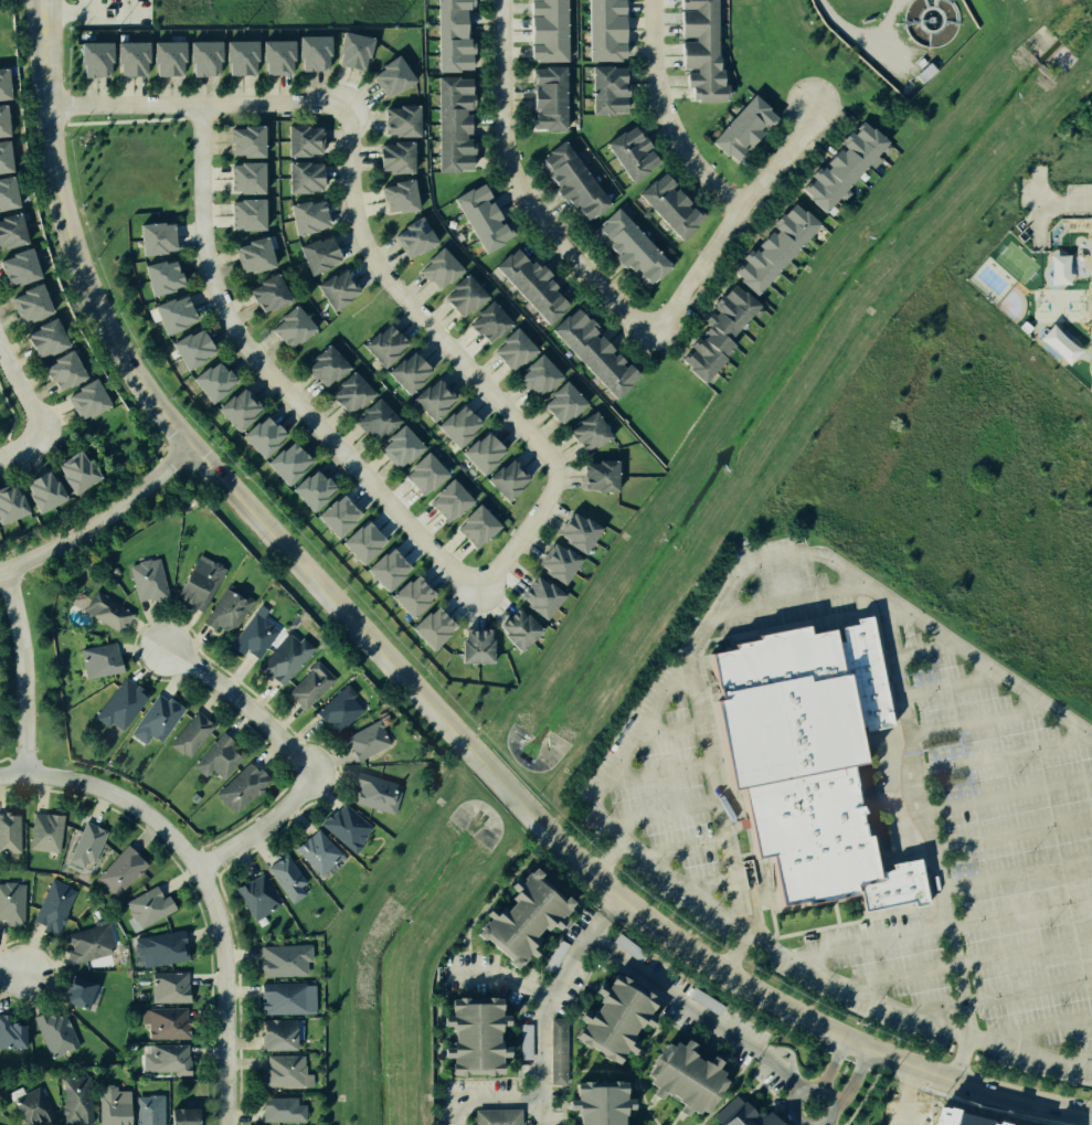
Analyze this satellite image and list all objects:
road: (71, 15)
building: (930, 21)
storage tank: (930, 21)
building: (552, 31)
building: (611, 31)
road: (850, 33)
park: (6, 34)
building: (460, 35)
building: (707, 49)
building: (359, 52)
building: (316, 54)
building: (280, 55)
building: (246, 56)
building: (211, 57)
building: (177, 59)
building: (99, 61)
building: (139, 61)
building: (922, 73)
building: (396, 75)
building: (3, 84)
building: (615, 89)
building: (552, 98)
road: (193, 105)
road: (661, 115)
building: (400, 120)
building: (1, 126)
building: (460, 127)
building: (748, 128)
building: (297, 139)
building: (253, 140)
building: (635, 152)
building: (2, 158)
building: (400, 158)
building: (848, 164)
building: (255, 179)
building: (309, 179)
building: (581, 179)
road: (517, 187)
building: (6, 191)
building: (403, 200)
road: (1068, 200)
building: (676, 205)
road: (727, 214)
building: (254, 215)
building: (314, 217)
building: (489, 217)
building: (14, 233)
building: (418, 236)
building: (159, 241)
building: (637, 244)
building: (1086, 246)
building: (781, 250)
building: (324, 251)
building: (259, 255)
building: (21, 267)
building: (444, 267)
building: (162, 278)
building: (1059, 279)
building: (536, 284)
building: (341, 287)
building: (275, 293)
building: (469, 293)
building: (34, 304)
road: (411, 309)
building: (734, 310)
building: (178, 315)
building: (494, 320)
building: (294, 327)
building: (1088, 332)
building: (52, 337)
building: (388, 343)
building: (1060, 343)
building: (519, 347)
building: (593, 348)
building: (195, 351)
building: (712, 355)
building: (330, 367)
building: (413, 369)
building: (68, 370)
building: (544, 375)
road: (275, 381)
building: (219, 382)
road: (21, 392)
building: (354, 395)
building: (437, 396)
building: (92, 400)
building: (568, 402)
building: (244, 408)
park: (9, 411)
road: (12, 415)
building: (379, 420)
building: (462, 423)
building: (594, 432)
building: (267, 436)
road: (12, 446)
road: (21, 446)
building: (402, 447)
building: (487, 449)
building: (291, 466)
building: (81, 474)
building: (426, 474)
building: (594, 475)
building: (512, 477)
building: (318, 490)
building: (49, 491)
building: (450, 500)
building: (13, 503)
building: (344, 516)
road: (102, 521)
building: (479, 527)
building: (571, 529)
road: (520, 540)
building: (367, 542)
building: (553, 560)
road: (754, 562)
building: (385, 570)
building: (147, 579)
building: (198, 580)
building: (410, 593)
building: (537, 595)
road: (788, 599)
building: (100, 612)
building: (222, 616)
building: (430, 626)
building: (516, 629)
building: (250, 643)
building: (474, 647)
building: (97, 656)
building: (283, 661)
road: (28, 672)
building: (308, 684)
road: (414, 692)
building: (117, 702)
road: (240, 702)
building: (337, 708)
building: (155, 717)
building: (189, 731)
building: (363, 743)
building: (219, 754)
building: (806, 758)
building: (245, 787)
building: (369, 790)
road: (715, 795)
parking lot: (862, 809)
road: (925, 814)
road: (161, 822)
building: (347, 826)
road: (258, 828)
building: (10, 832)
building: (44, 835)
building: (85, 846)
building: (316, 853)
road: (1016, 870)
building: (120, 871)
building: (285, 879)
road: (683, 881)
building: (256, 894)
building: (9, 903)
building: (51, 903)
road: (612, 903)
building: (148, 908)
building: (515, 914)
road: (869, 940)
building: (85, 942)
building: (630, 948)
building: (158, 949)
road: (734, 952)
building: (282, 957)
building: (556, 957)
road: (2, 969)
road: (497, 977)
building: (165, 989)
road: (850, 991)
building: (73, 994)
road: (671, 995)
road: (547, 997)
building: (284, 998)
building: (707, 1001)
building: (607, 1016)
building: (165, 1021)
building: (53, 1033)
building: (9, 1036)
building: (466, 1036)
building: (276, 1037)
road: (1029, 1046)
building: (559, 1051)
road: (224, 1052)
building: (163, 1059)
road: (960, 1059)
road: (828, 1063)
road: (777, 1070)
building: (289, 1072)
building: (680, 1079)
road: (851, 1082)
road: (808, 1085)
road: (909, 1096)
road: (484, 1100)
building: (72, 1101)
building: (29, 1107)
building: (112, 1107)
building: (146, 1110)
building: (284, 1110)
road: (539, 1112)
building: (179, 1115)
building: (496, 1115)
building: (744, 1117)
building: (589, 1119)
road: (821, 1124)

